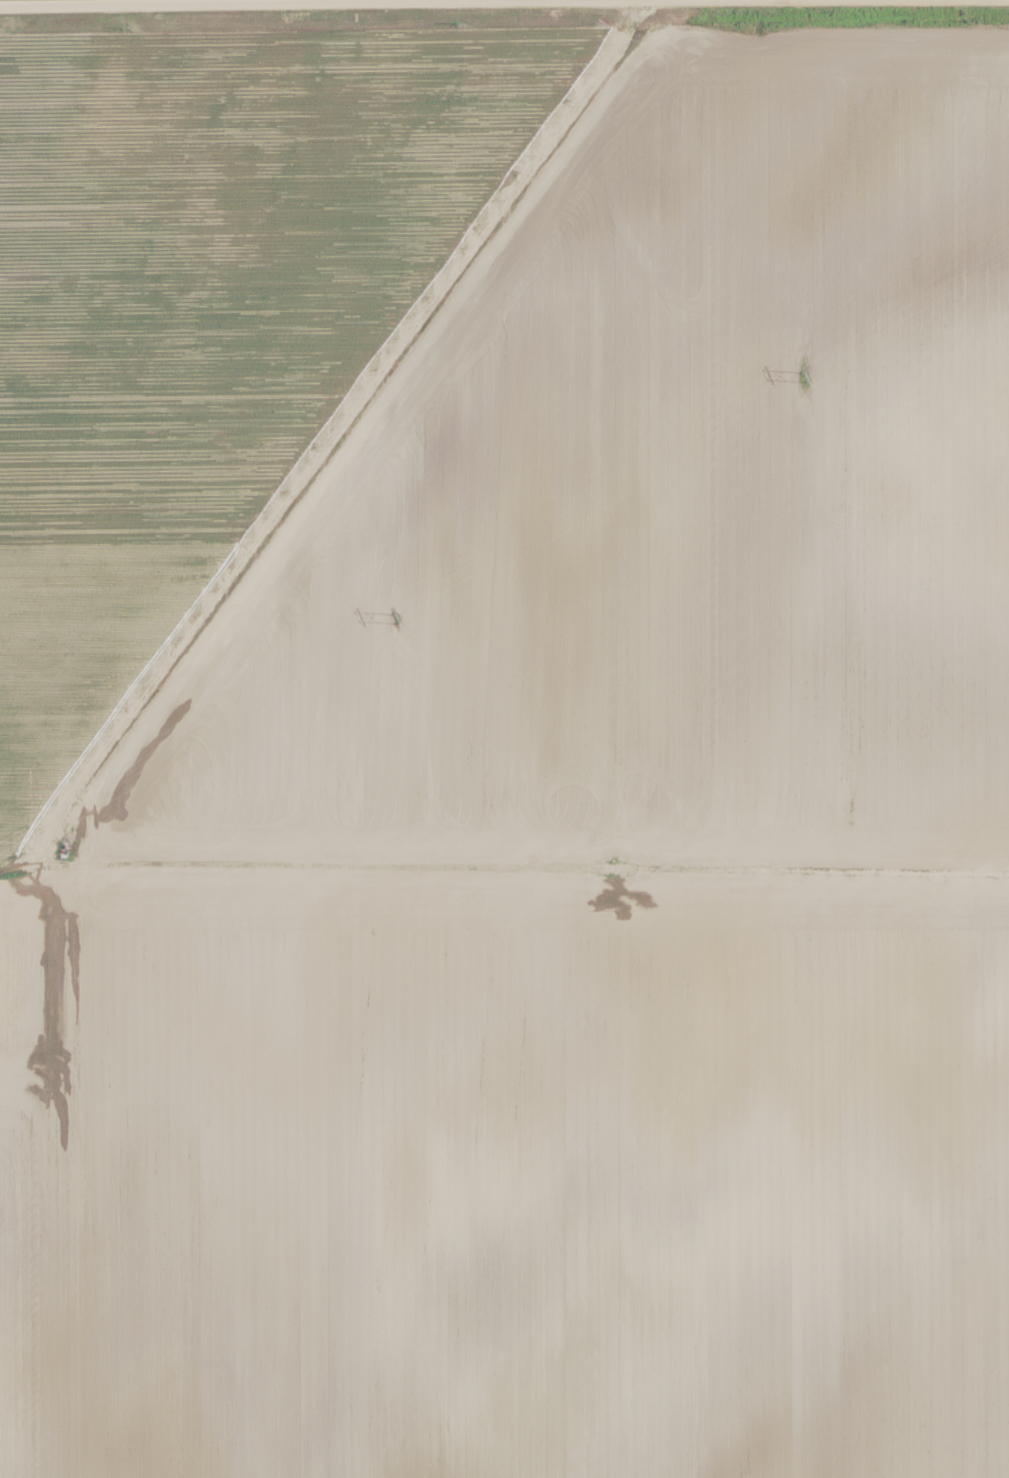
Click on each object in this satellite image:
road: (207, 3)
power tower: (803, 377)
power tower: (396, 619)

